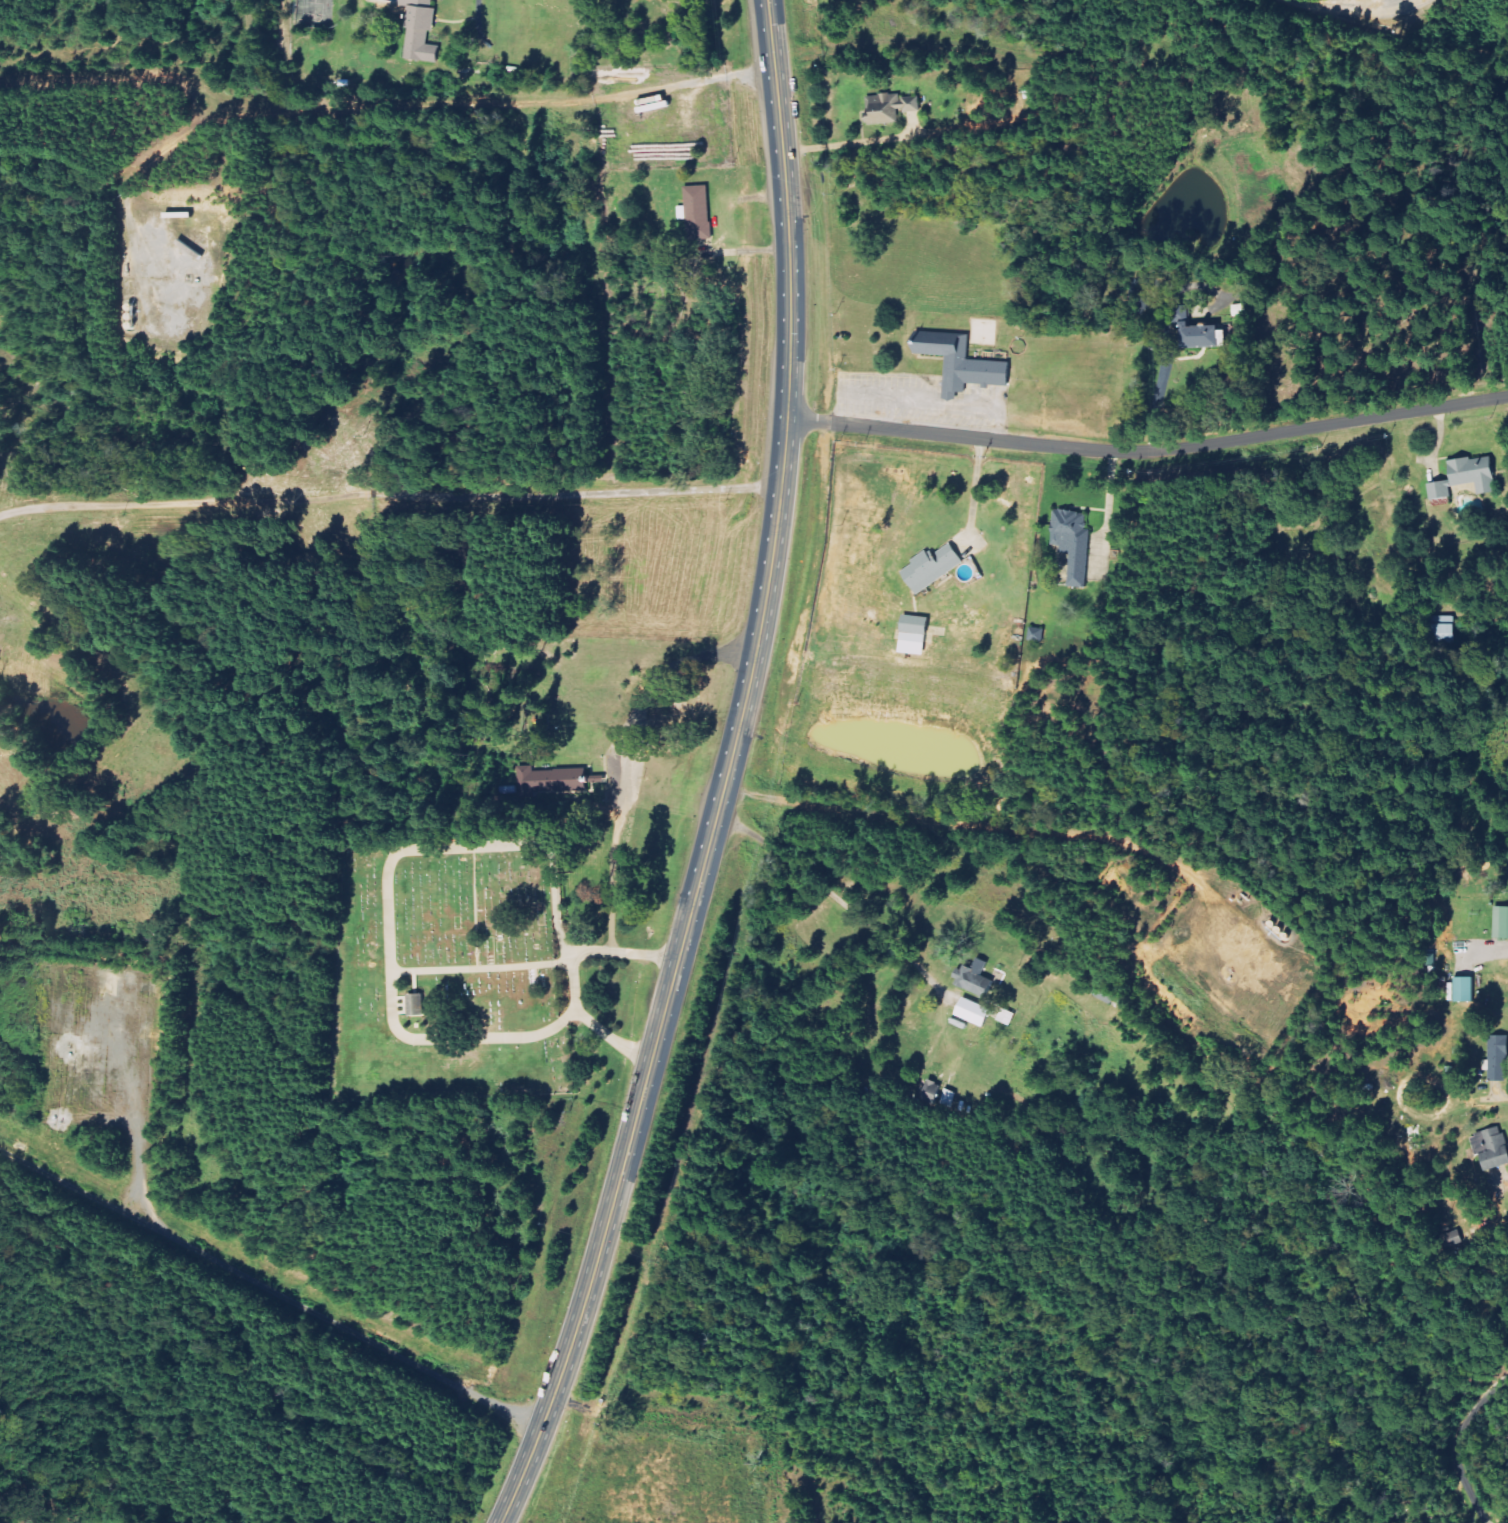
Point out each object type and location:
building: (421, 31)
building: (889, 108)
road: (788, 207)
building: (698, 213)
building: (1196, 331)
building: (964, 365)
road: (1149, 448)
building: (1467, 477)
road: (390, 493)
building: (1074, 542)
building: (932, 568)
building: (1441, 630)
building: (914, 635)
building: (552, 782)
building: (1501, 922)
park: (473, 960)
road: (673, 976)
building: (975, 978)
building: (1465, 989)
building: (416, 1004)
building: (974, 1012)
building: (1007, 1017)
building: (1499, 1058)
road: (1502, 1093)
building: (1492, 1148)
road: (1454, 1440)

